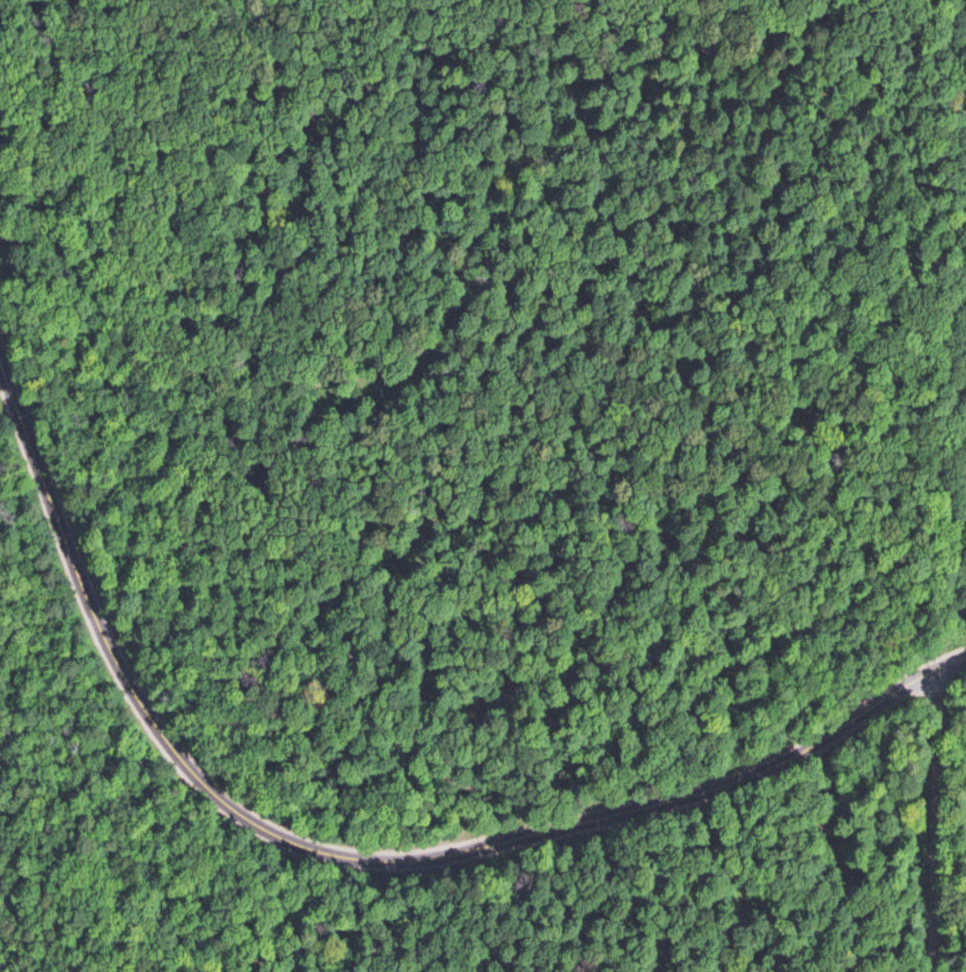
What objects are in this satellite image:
road: (931, 823)
road: (361, 856)

